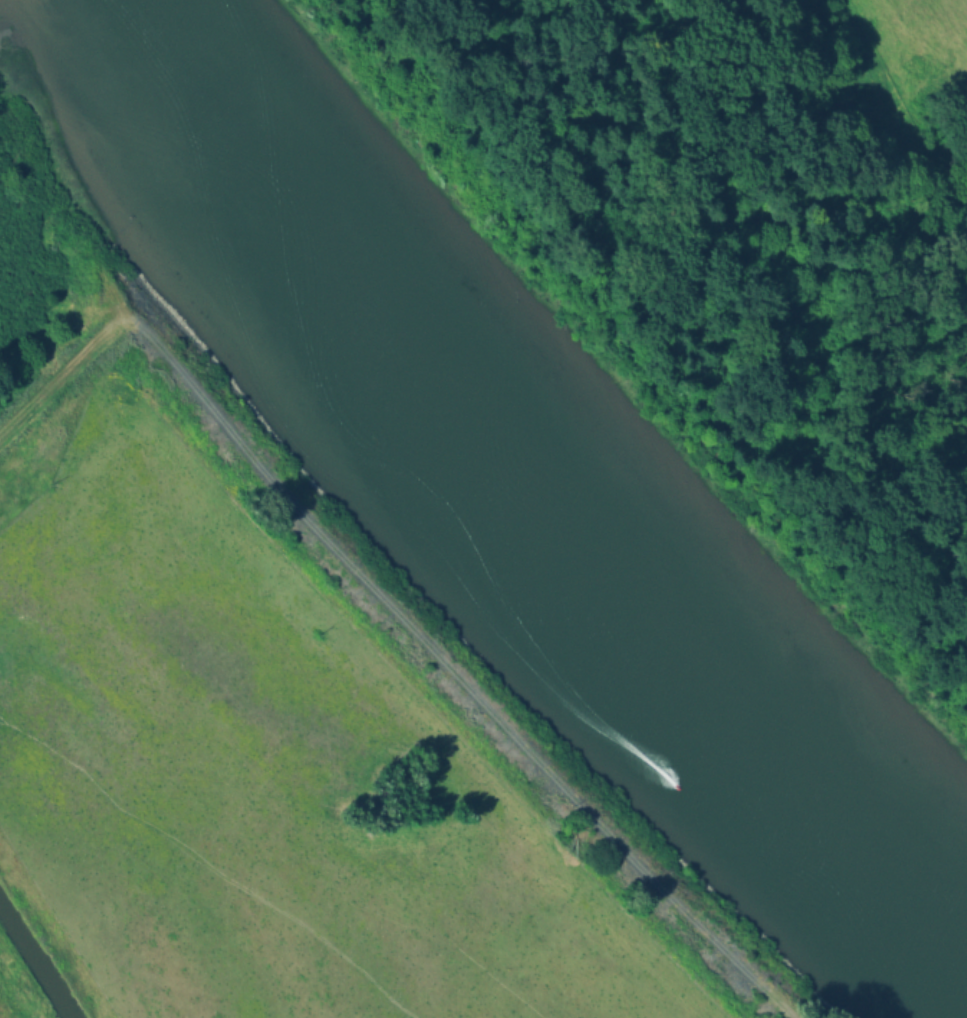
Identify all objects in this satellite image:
river: (502, 471)
road: (397, 613)

